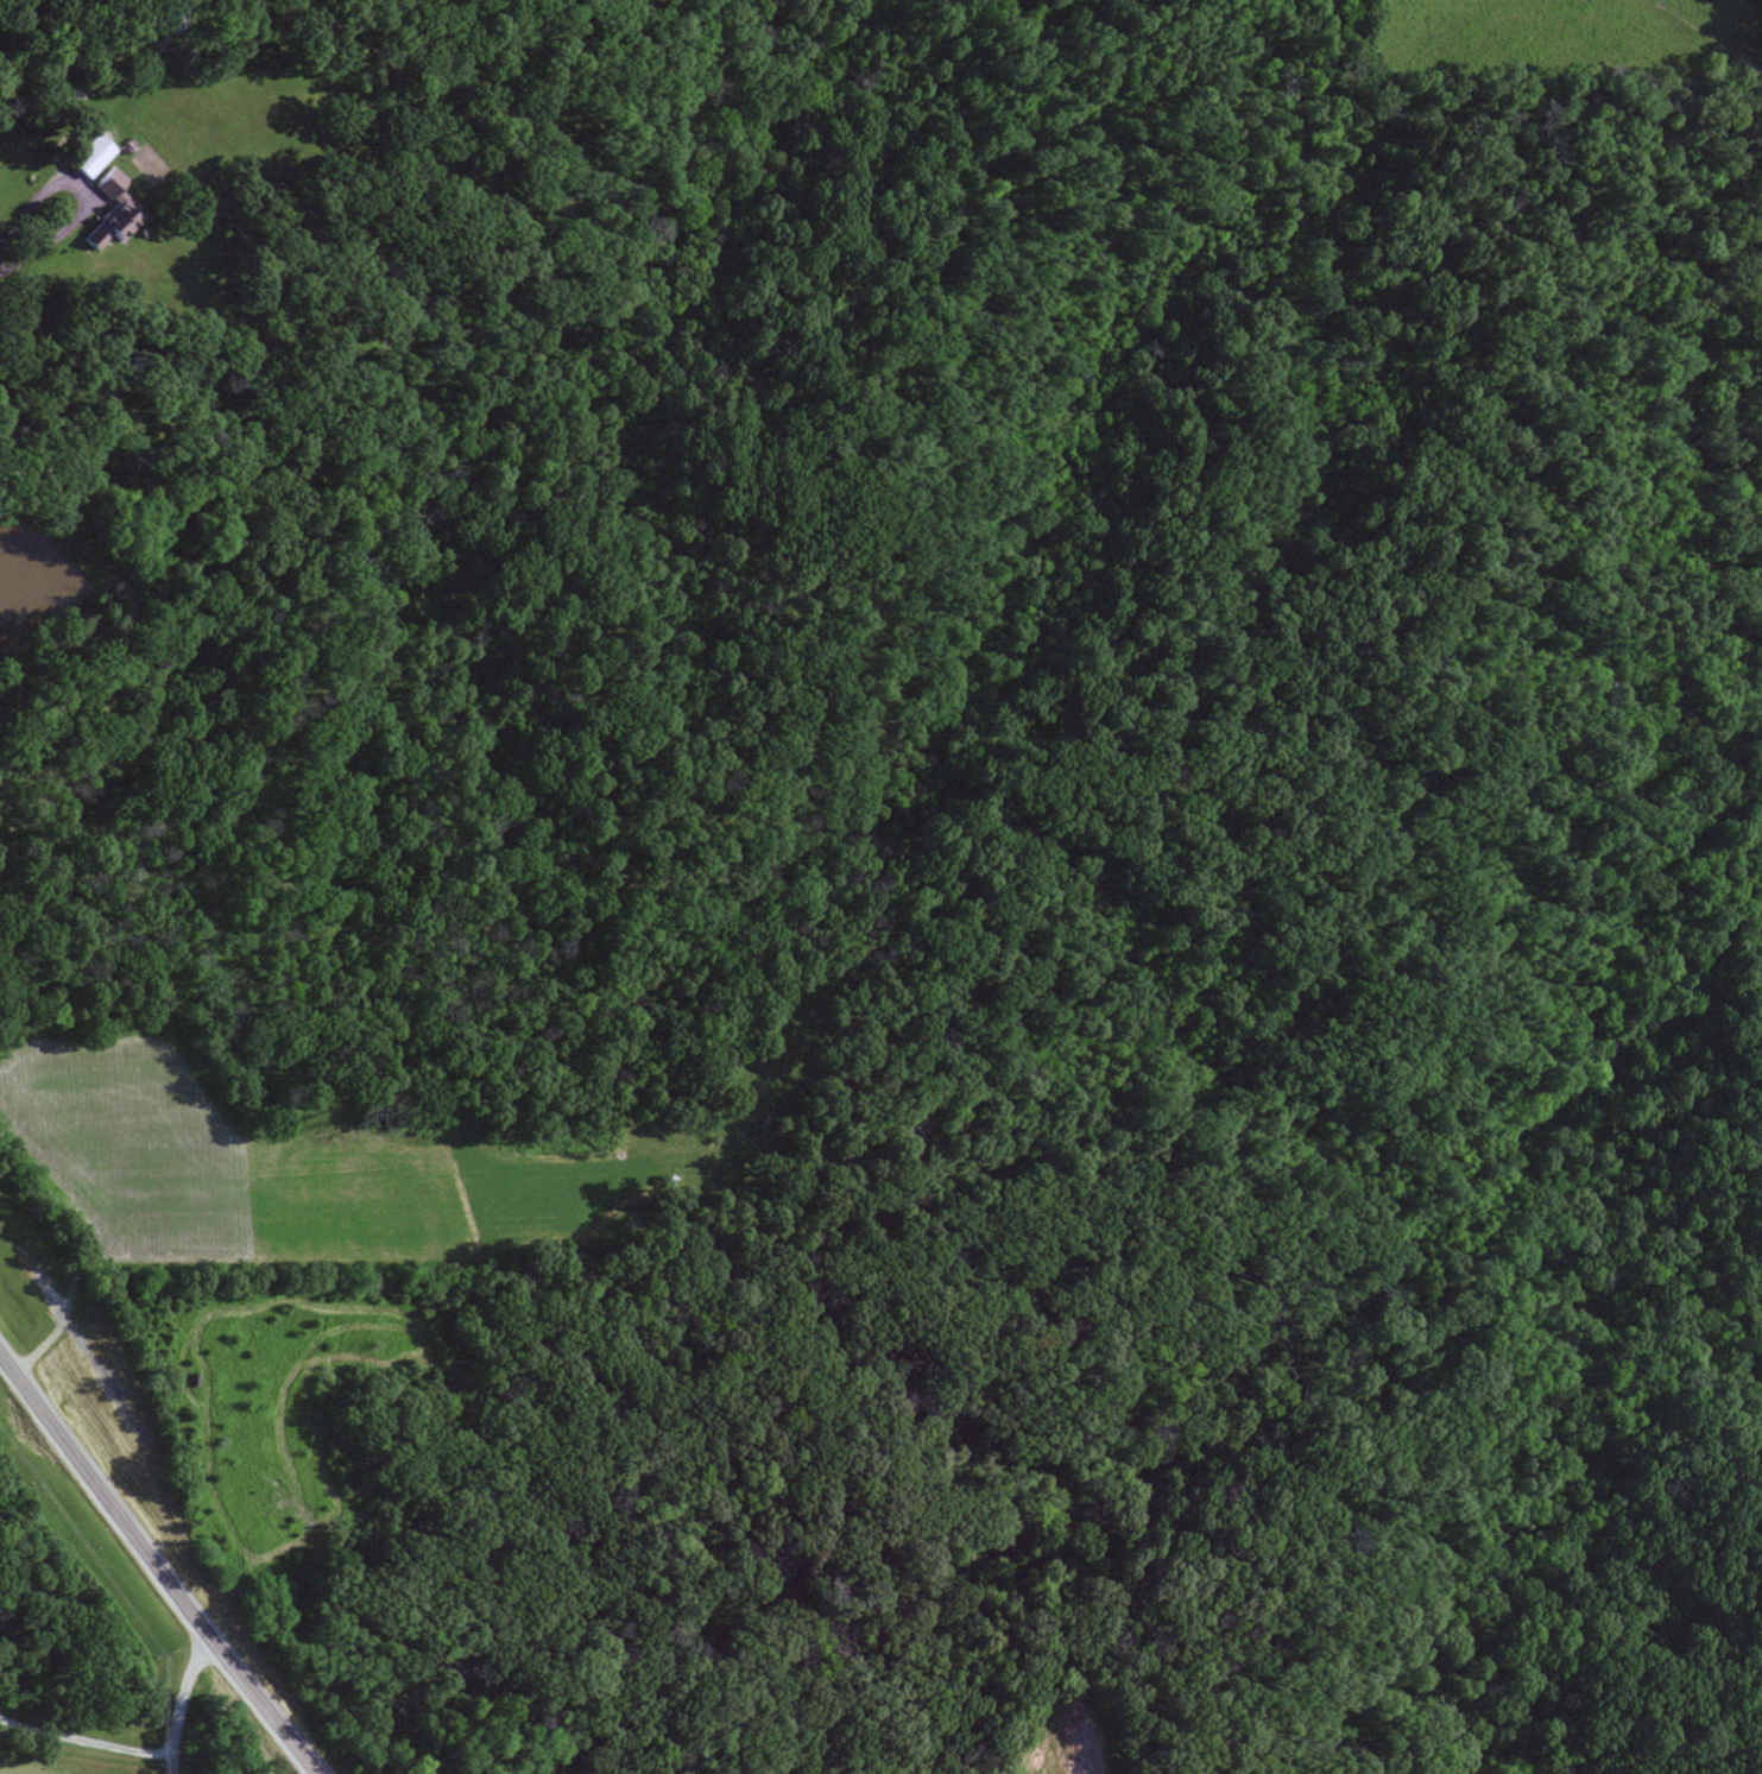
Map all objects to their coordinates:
building: (94, 156)
road: (158, 1567)
road: (179, 1699)

